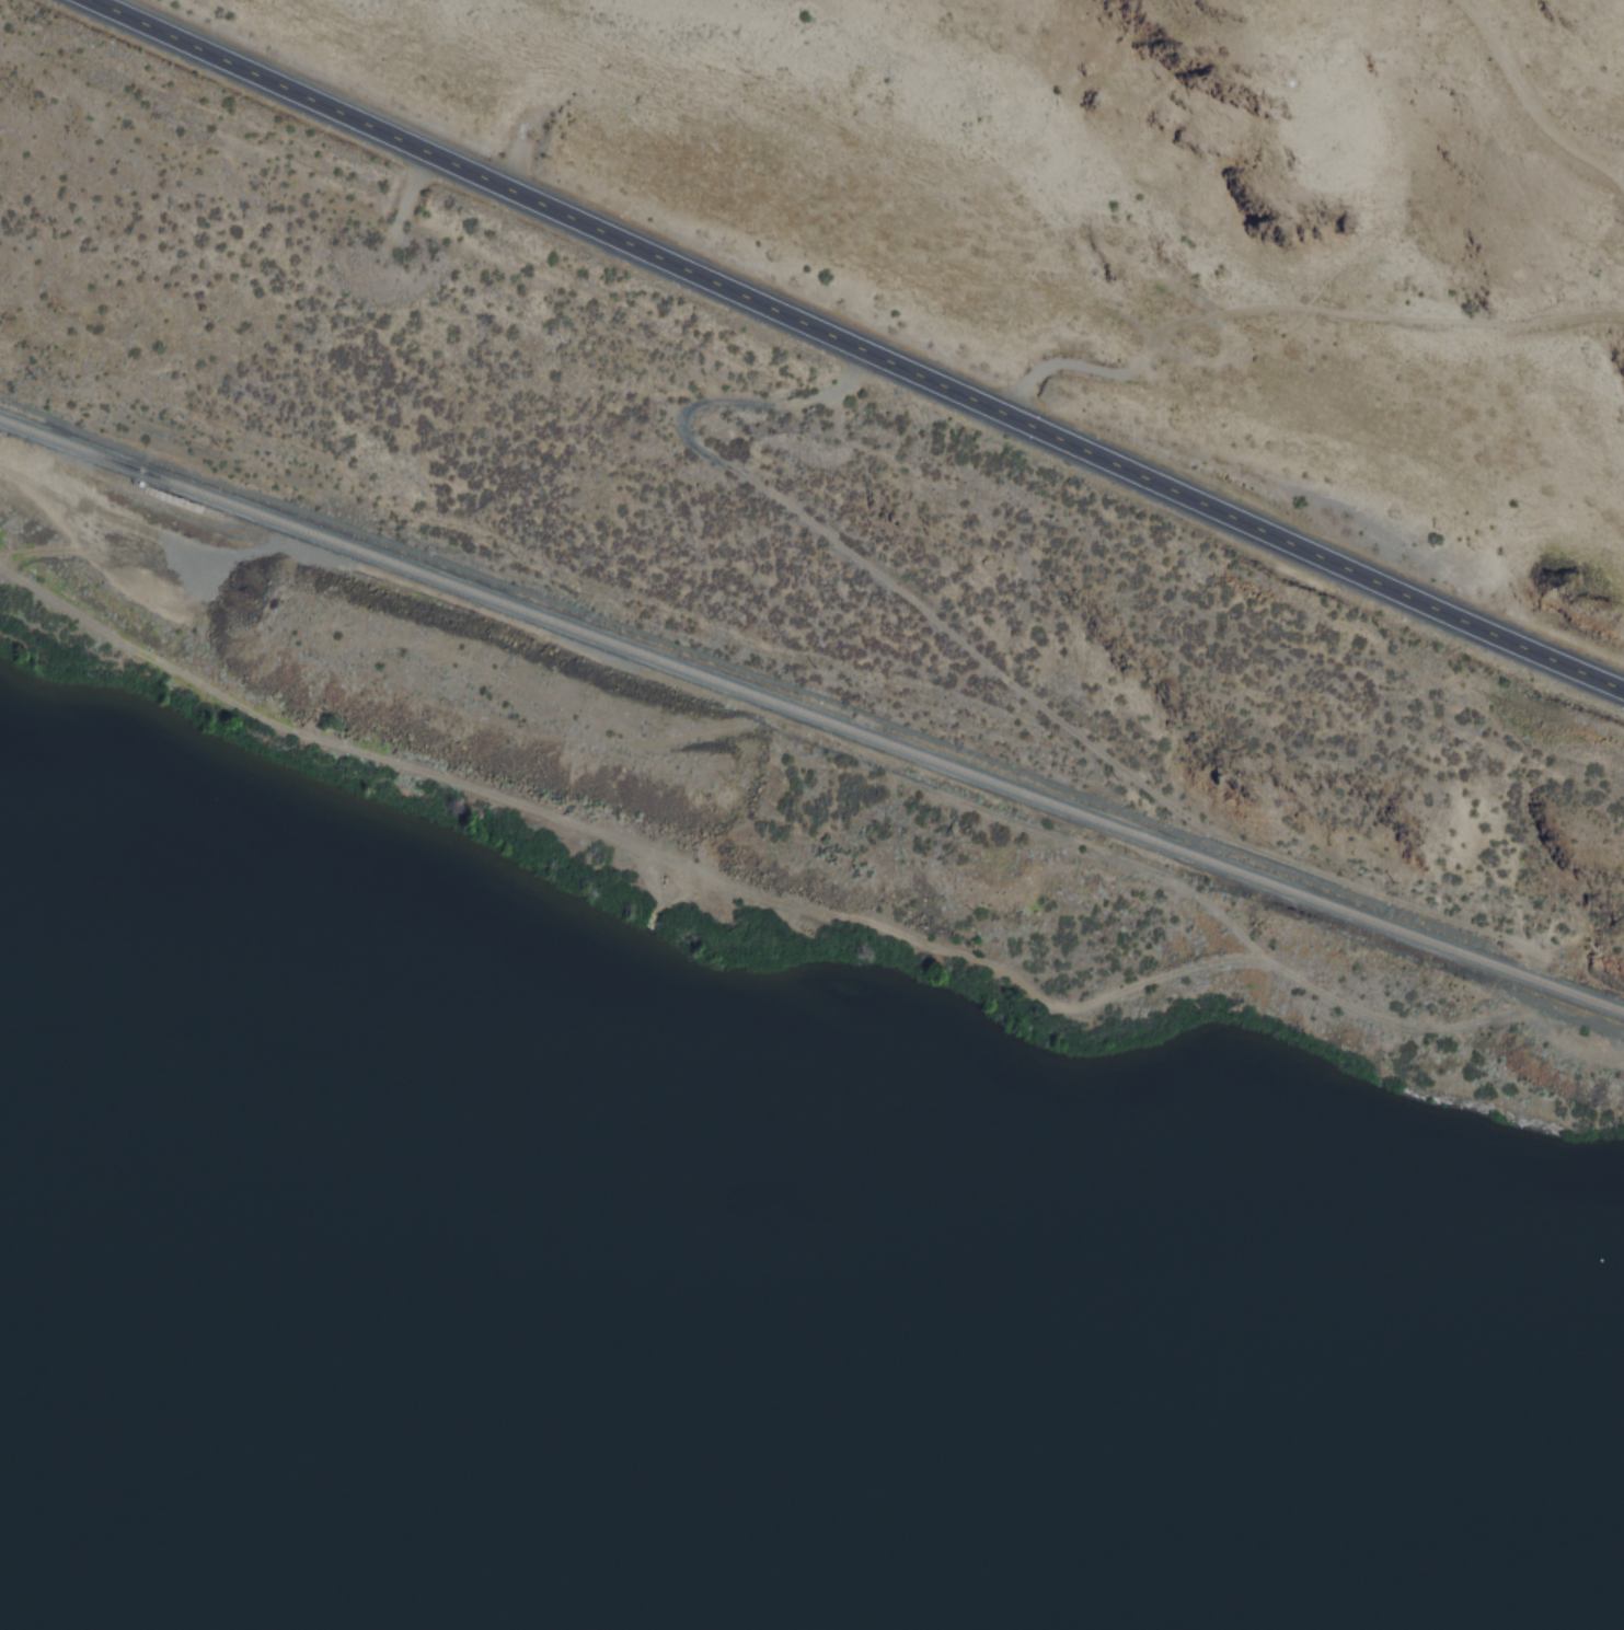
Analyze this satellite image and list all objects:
road: (1527, 105)
road: (1293, 307)
road: (857, 346)
railway: (811, 716)
road: (803, 908)

